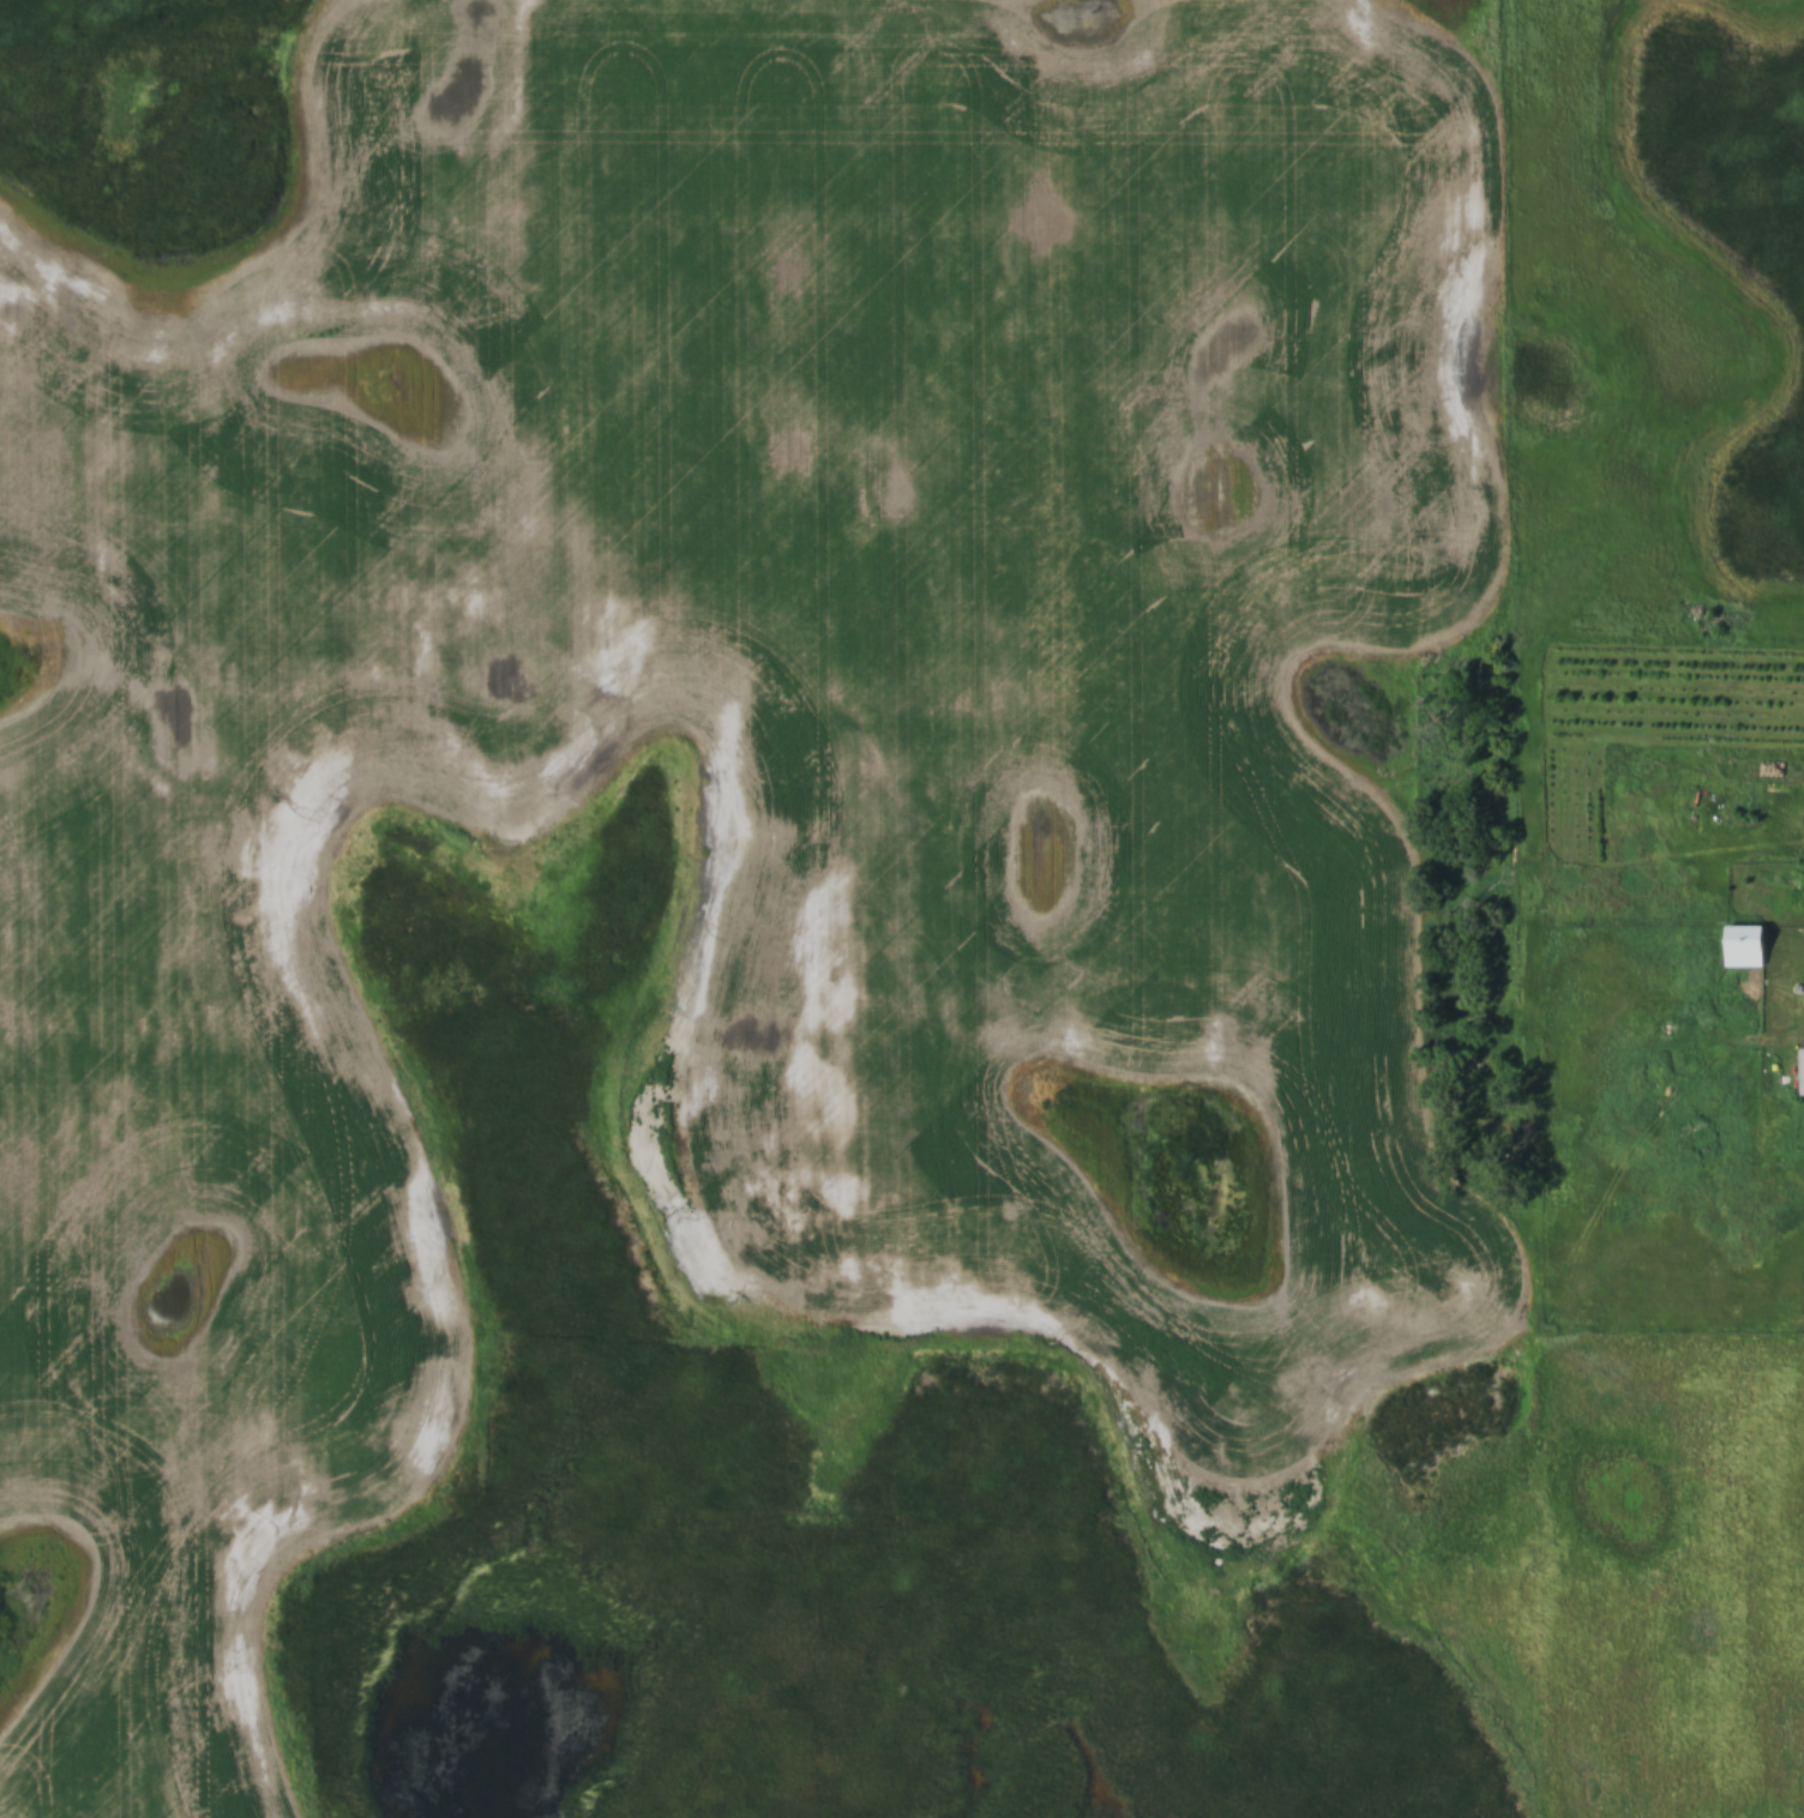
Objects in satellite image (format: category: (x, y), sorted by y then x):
building: (1733, 947)
building: (1796, 1074)

